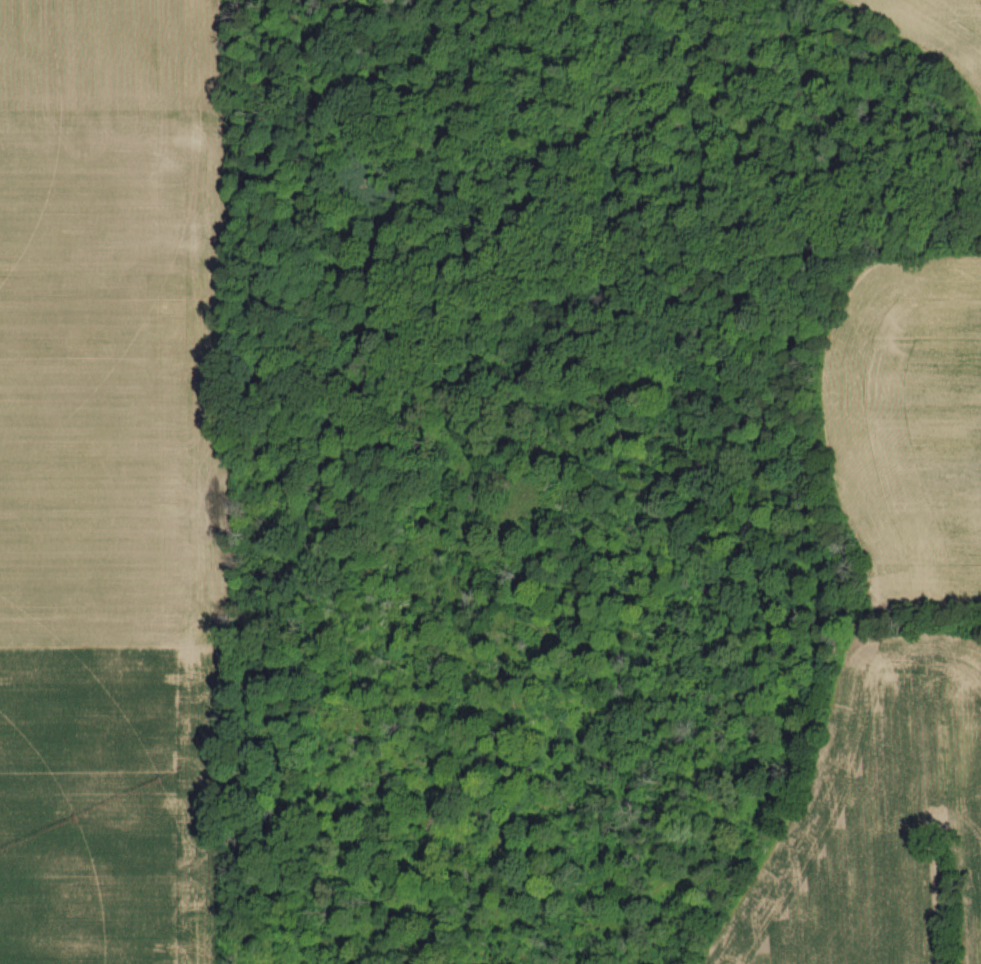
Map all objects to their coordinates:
crop: (936, 30)
crop: (910, 428)
crop: (112, 477)

